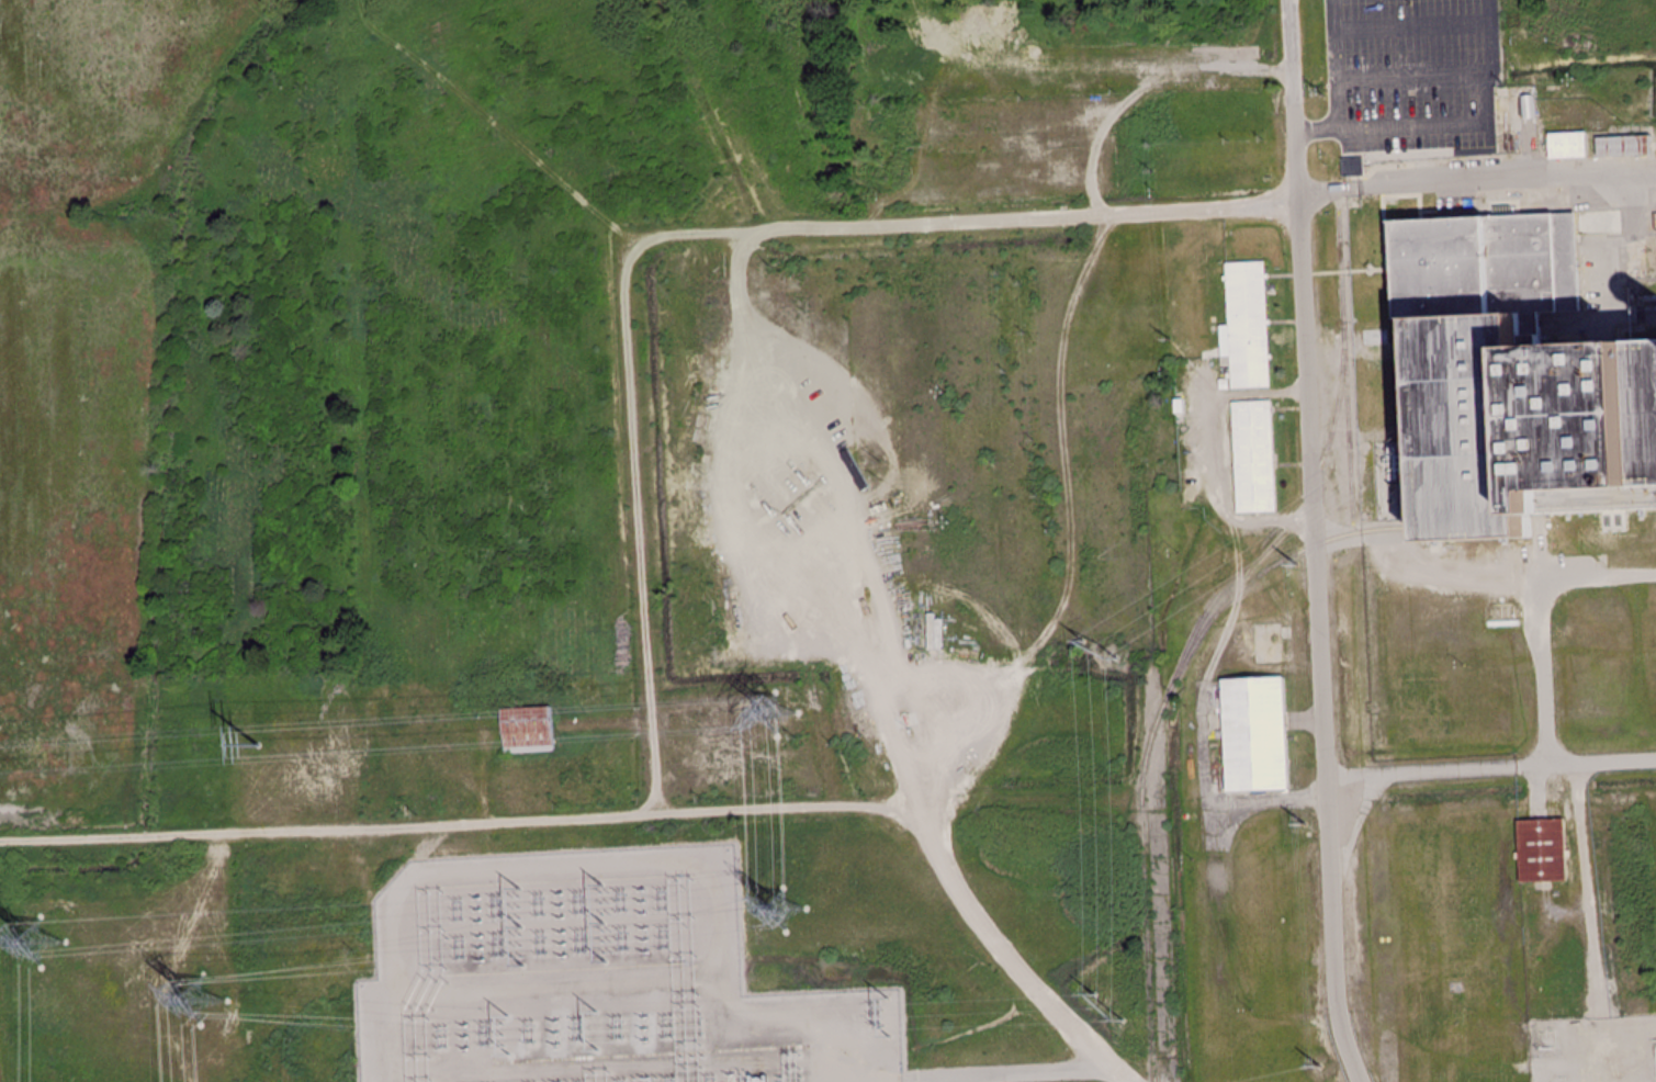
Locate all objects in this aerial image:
road: (1413, 27)
road: (1337, 41)
parking lot: (1415, 72)
road: (1406, 78)
road: (1439, 124)
building: (1565, 147)
building: (1622, 147)
building: (1352, 168)
road: (1477, 184)
road: (681, 237)
building: (1247, 326)
power plant: (1510, 380)
building: (1503, 390)
building: (847, 438)
building: (1253, 458)
road: (1313, 542)
power tower: (1297, 566)
railway: (1192, 628)
power tower: (777, 713)
building: (525, 731)
building: (1252, 734)
power tower: (258, 744)
road: (1491, 770)
road: (1539, 794)
road: (454, 823)
power tower: (1306, 826)
building: (1543, 849)
road: (645, 863)
road: (1588, 892)
power tower: (787, 911)
power tower: (43, 942)
road: (1012, 954)
power substation: (597, 980)
power tower: (202, 999)
power tower: (1322, 1068)
road: (1005, 1074)
road: (889, 1080)

